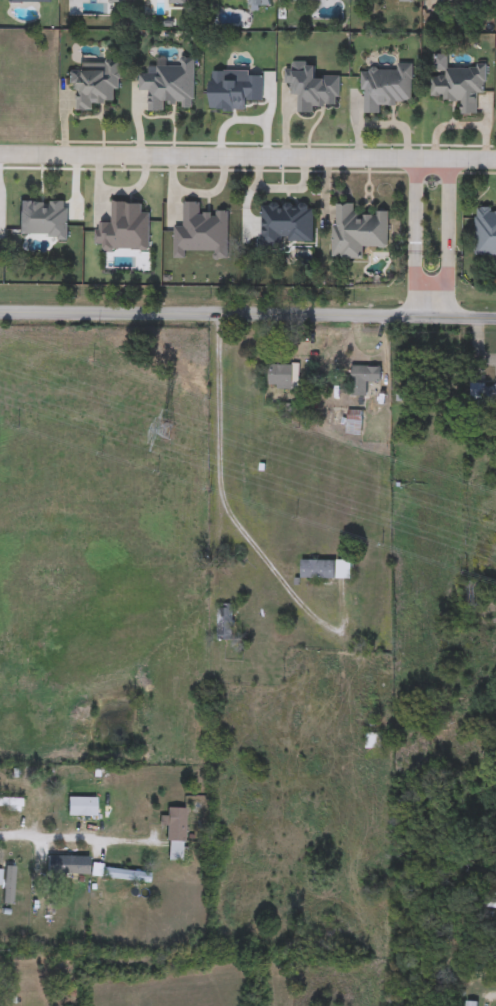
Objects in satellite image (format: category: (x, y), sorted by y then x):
building: (406, 1)
building: (95, 83)
building: (170, 86)
building: (460, 86)
building: (387, 88)
building: (312, 89)
road: (248, 157)
road: (279, 187)
road: (450, 204)
road: (418, 205)
building: (357, 231)
building: (485, 233)
road: (449, 282)
road: (418, 283)
road: (248, 313)
building: (284, 376)
building: (364, 378)
building: (483, 394)
power tower: (165, 428)
road: (220, 494)
building: (326, 570)
building: (474, 594)
building: (225, 622)
building: (442, 712)
building: (373, 741)
building: (11, 803)
building: (81, 807)
building: (175, 834)
road: (83, 838)
building: (68, 865)
building: (12, 867)
building: (491, 904)
building: (468, 1005)

